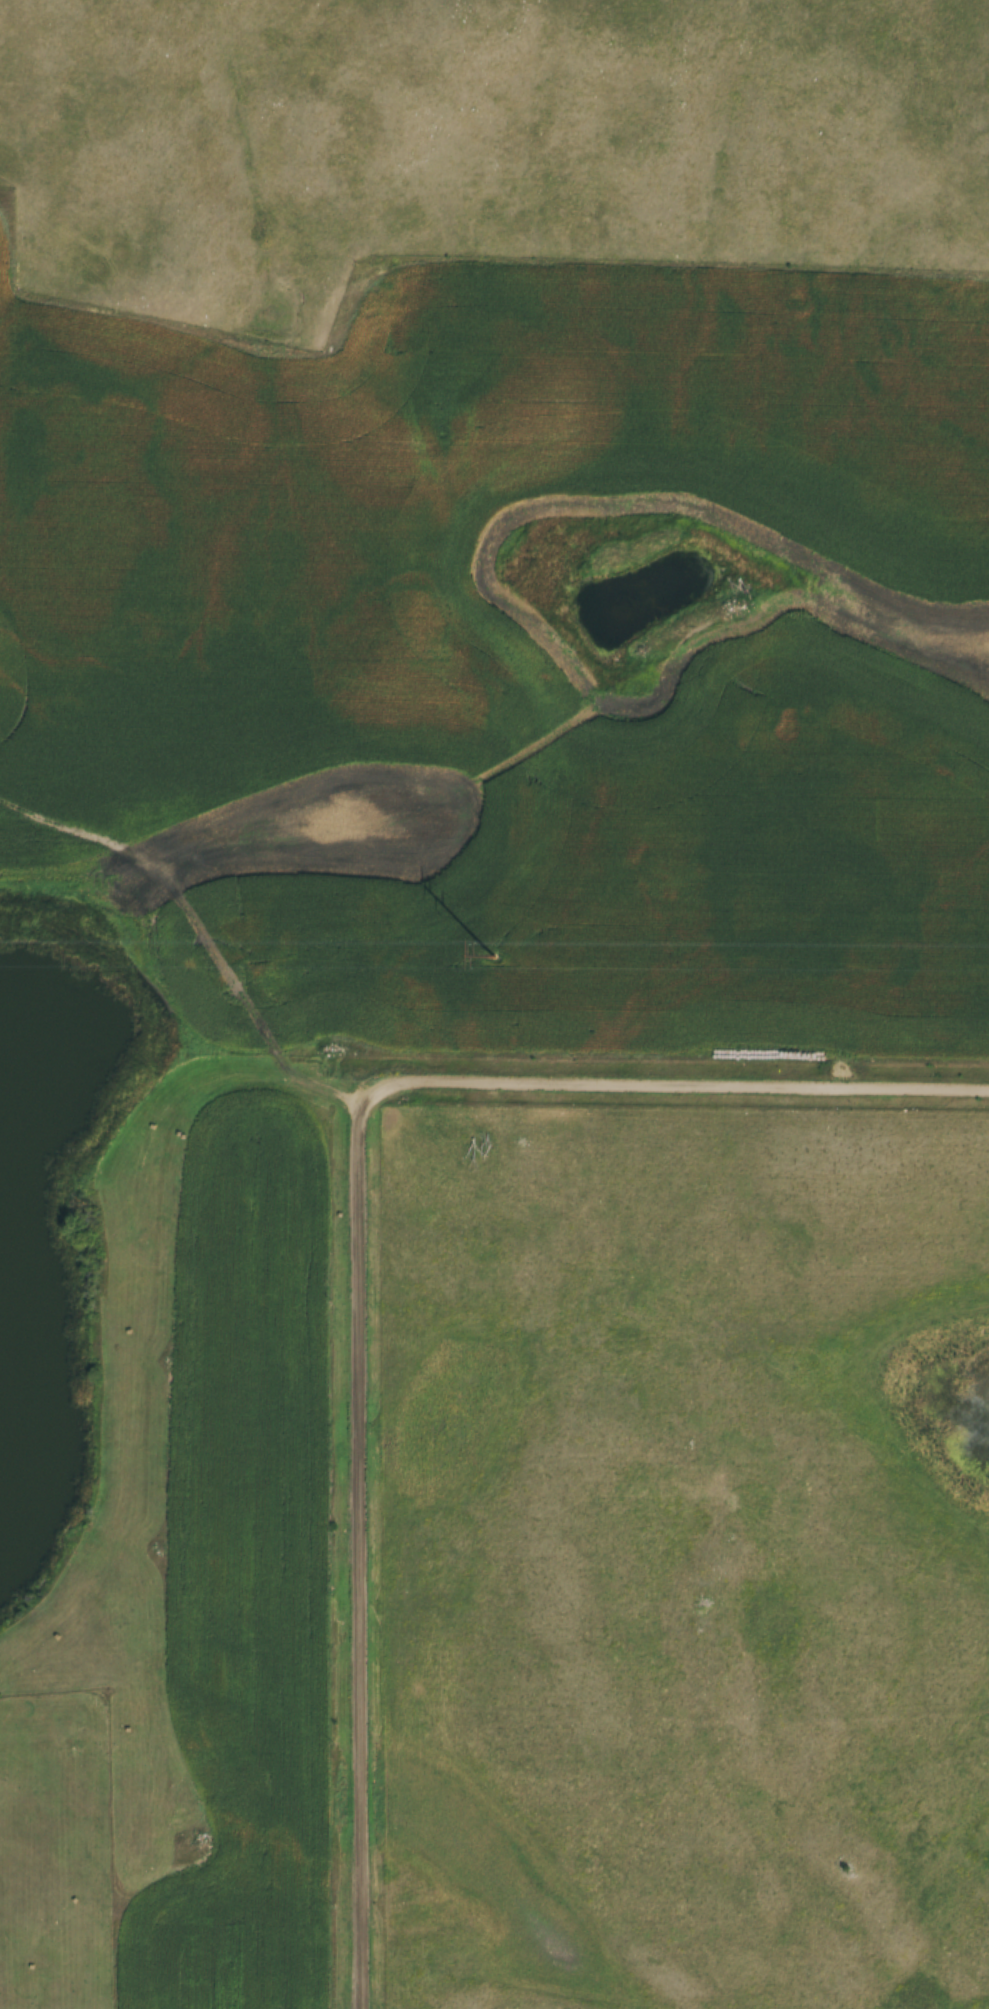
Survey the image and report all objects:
power tower: (483, 949)
road: (678, 1084)
road: (360, 1547)

